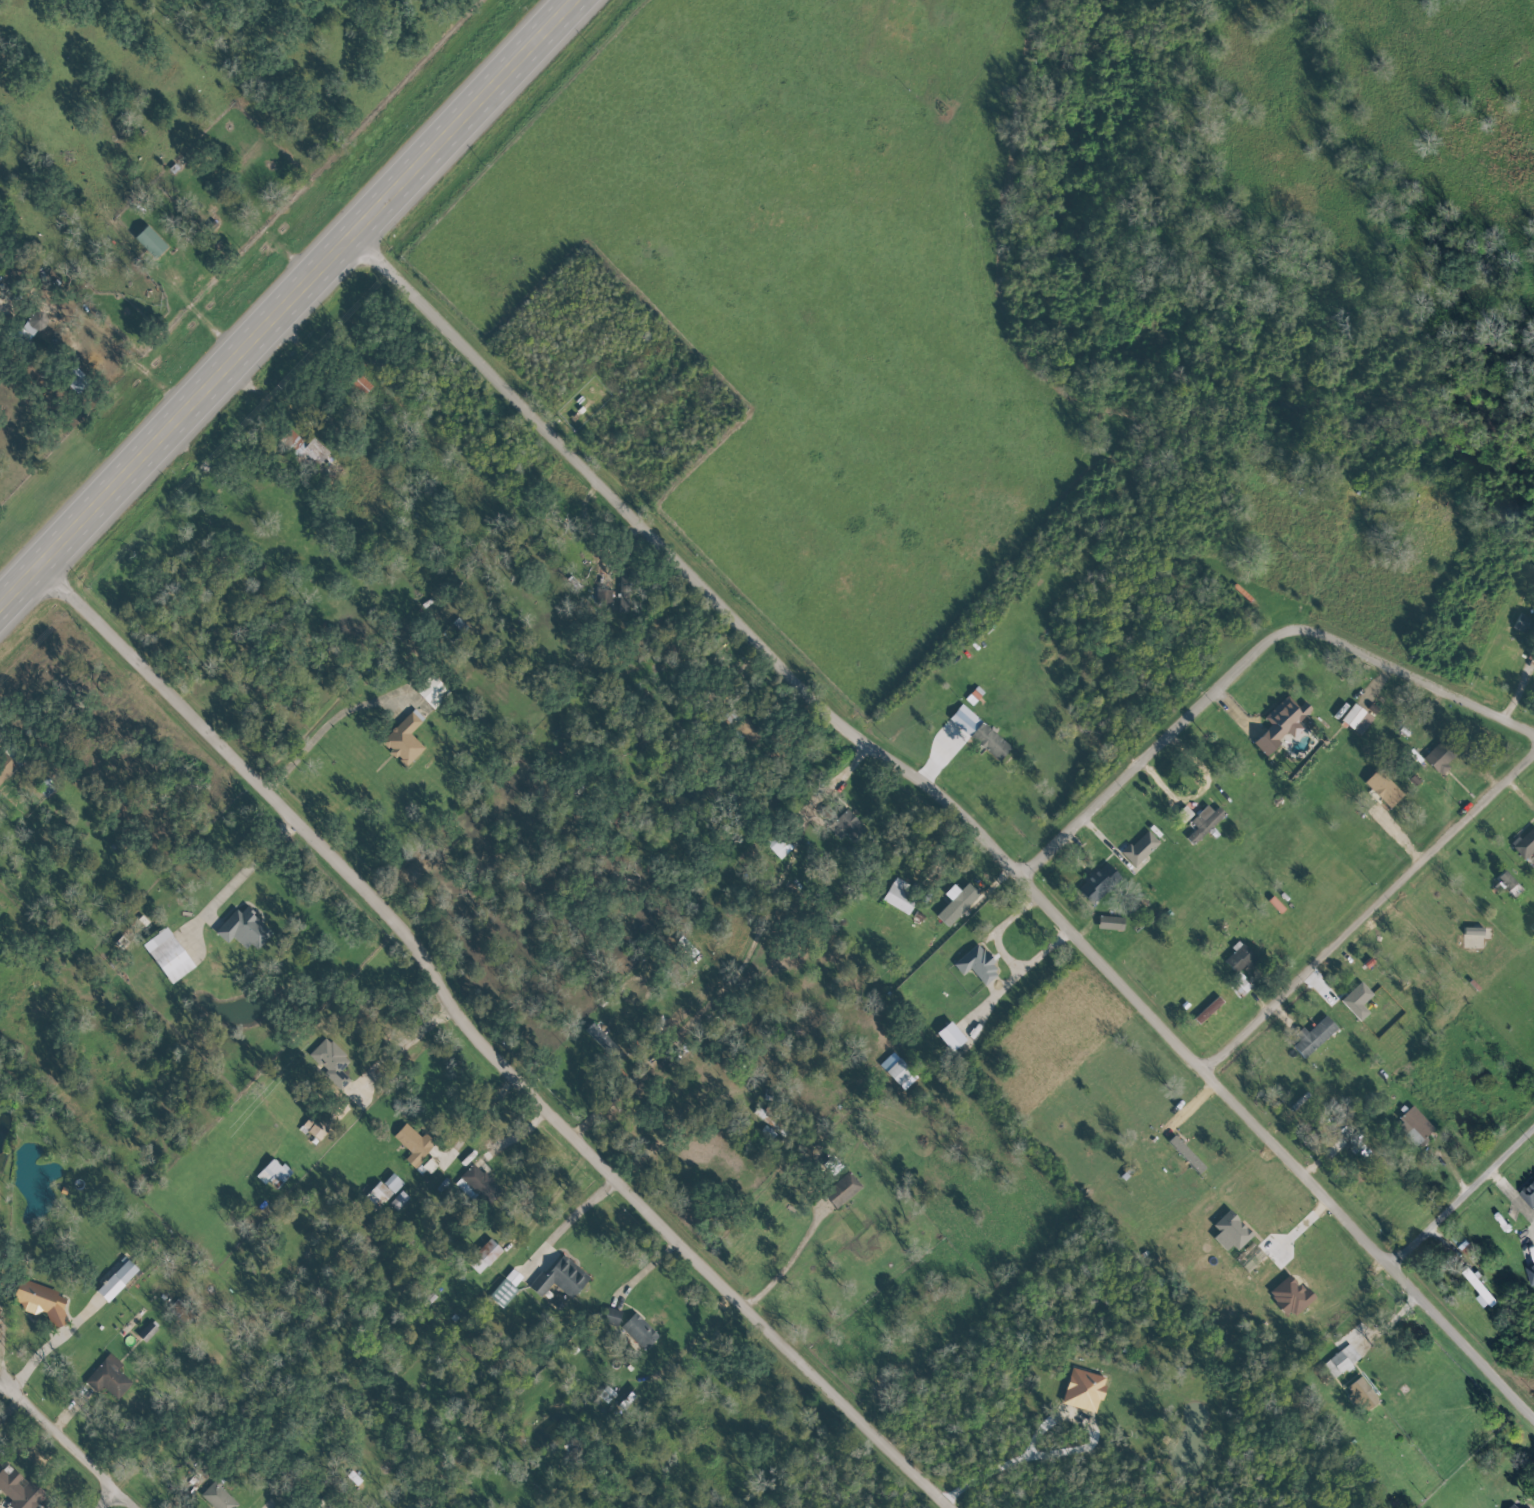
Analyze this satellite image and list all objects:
building: (152, 242)
road: (291, 303)
building: (36, 324)
building: (77, 381)
building: (307, 451)
road: (593, 474)
building: (626, 589)
building: (605, 596)
building: (1523, 622)
road: (1250, 660)
building: (432, 690)
building: (1358, 718)
building: (1283, 723)
building: (755, 728)
building: (981, 732)
road: (318, 736)
building: (405, 739)
building: (1441, 755)
building: (6, 766)
building: (1385, 788)
building: (1205, 824)
building: (849, 826)
building: (1525, 844)
building: (779, 846)
building: (1141, 848)
building: (1507, 881)
building: (1100, 882)
building: (900, 896)
building: (959, 904)
road: (1370, 916)
building: (1112, 922)
building: (245, 929)
building: (170, 955)
building: (1240, 957)
building: (978, 964)
building: (1358, 1000)
building: (952, 1036)
building: (1315, 1036)
building: (605, 1041)
road: (483, 1043)
road: (1190, 1058)
building: (331, 1061)
park: (2, 1070)
building: (901, 1072)
building: (771, 1119)
building: (1415, 1125)
building: (314, 1129)
building: (415, 1144)
building: (1188, 1155)
building: (274, 1173)
building: (479, 1182)
building: (844, 1189)
building: (384, 1190)
building: (1529, 1195)
building: (399, 1200)
road: (1463, 1202)
building: (1232, 1231)
building: (485, 1256)
road: (788, 1263)
building: (1531, 1274)
building: (561, 1278)
building: (118, 1280)
building: (507, 1287)
building: (1292, 1296)
building: (42, 1301)
building: (611, 1317)
road: (1371, 1319)
building: (148, 1331)
building: (640, 1331)
road: (3, 1345)
building: (1342, 1360)
building: (109, 1377)
road: (4, 1386)
building: (1085, 1390)
building: (628, 1393)
building: (1362, 1394)
road: (1013, 1466)
building: (20, 1489)
building: (218, 1497)
road: (107, 1501)
building: (1516, 1507)
building: (1528, 1507)

